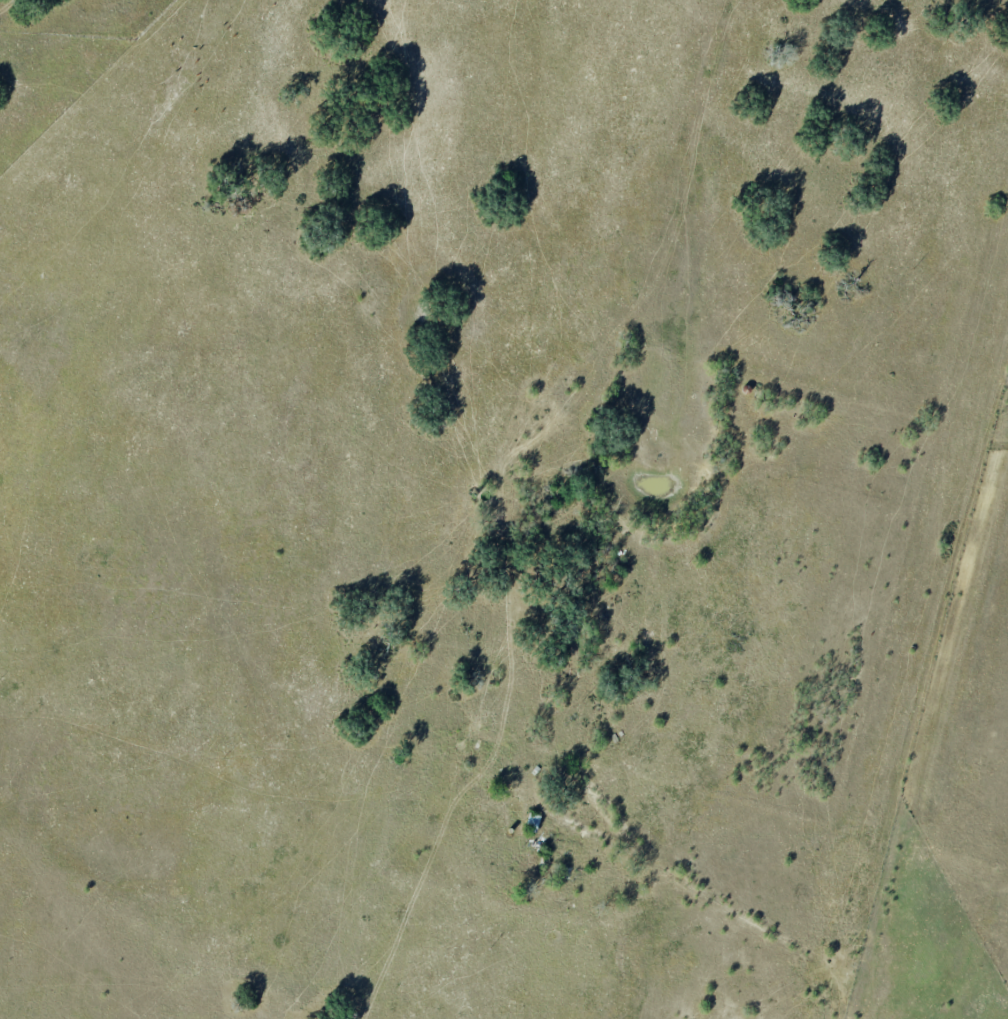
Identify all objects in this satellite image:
road: (714, 903)

